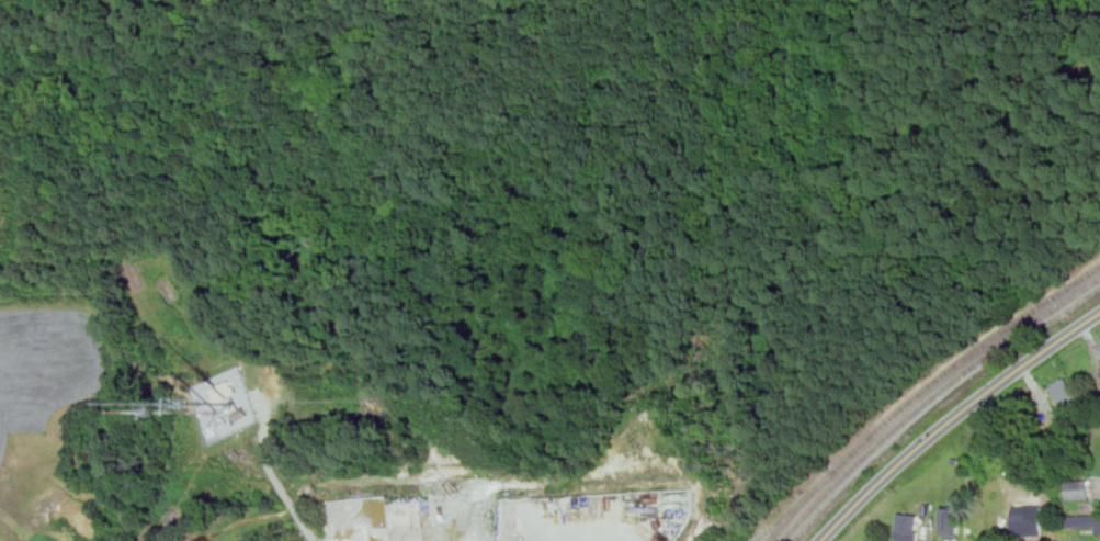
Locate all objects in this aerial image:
building: (1099, 369)
building: (227, 390)
railway: (923, 391)
building: (1065, 392)
railway: (931, 398)
road: (954, 418)
building: (1079, 488)
road: (293, 505)
railway: (785, 515)
building: (952, 520)
building: (1082, 521)
building: (1023, 522)
building: (909, 527)

